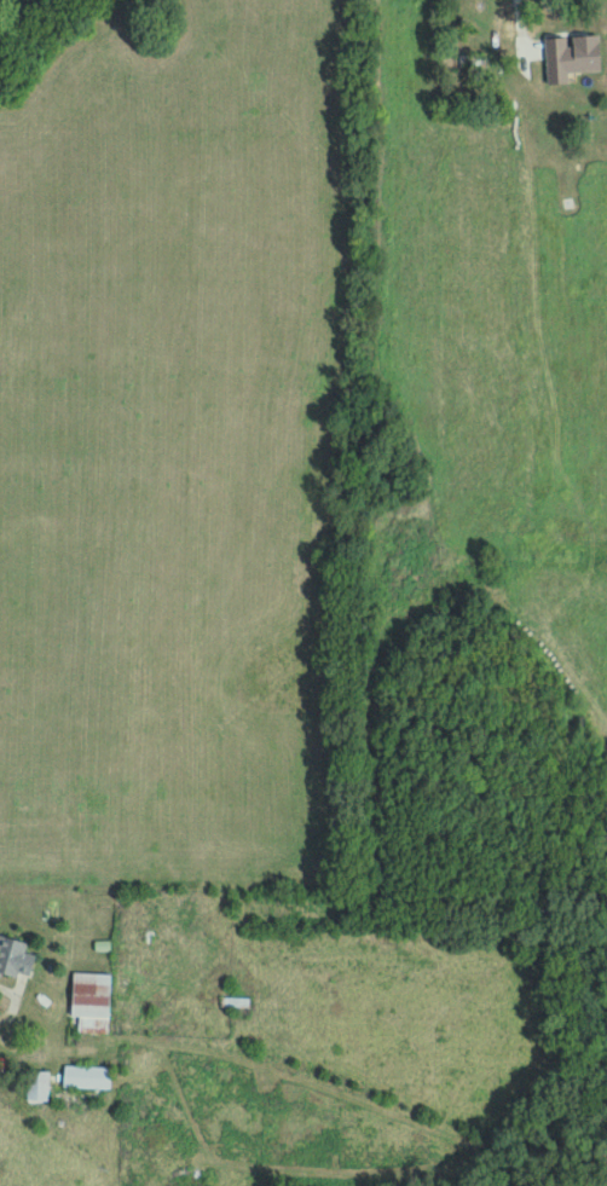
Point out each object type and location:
building: (568, 54)
building: (13, 956)
road: (15, 1000)
building: (88, 1001)
building: (83, 1076)

